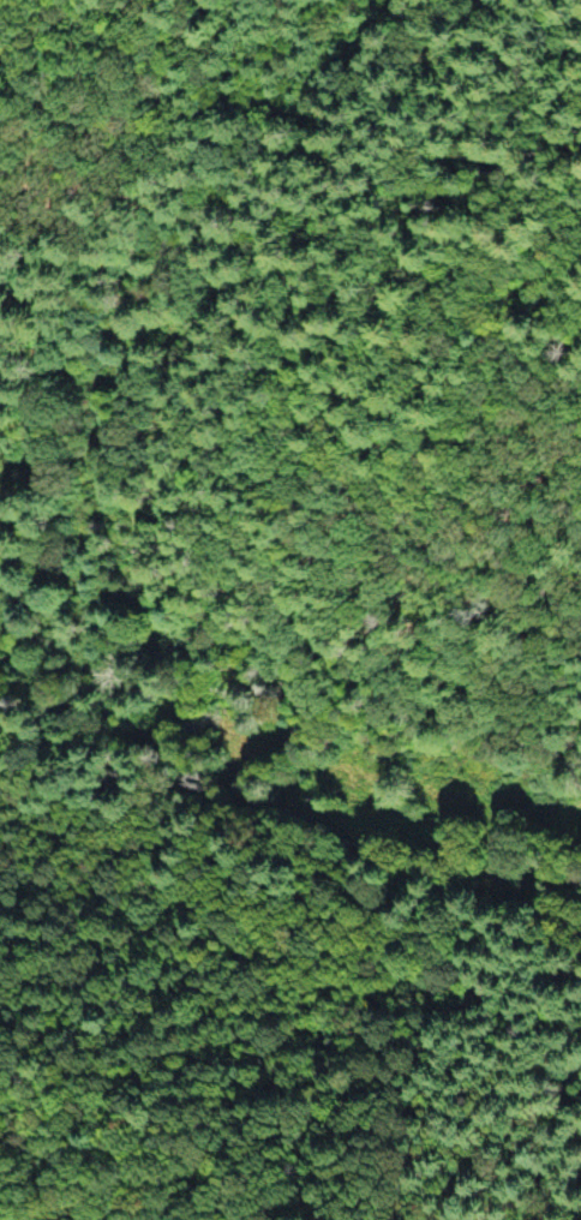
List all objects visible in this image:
road: (211, 211)
road: (154, 552)
road: (372, 707)

